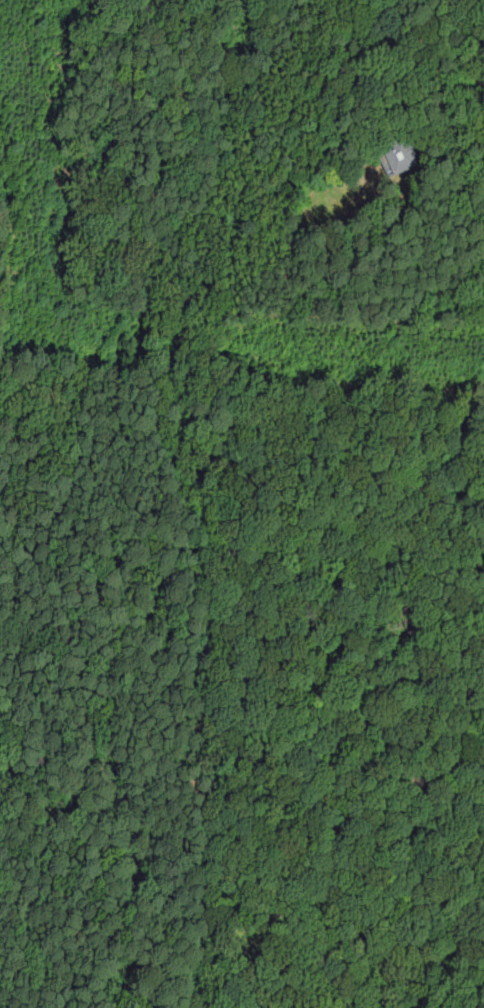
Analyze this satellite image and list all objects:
road: (469, 140)
building: (398, 157)

